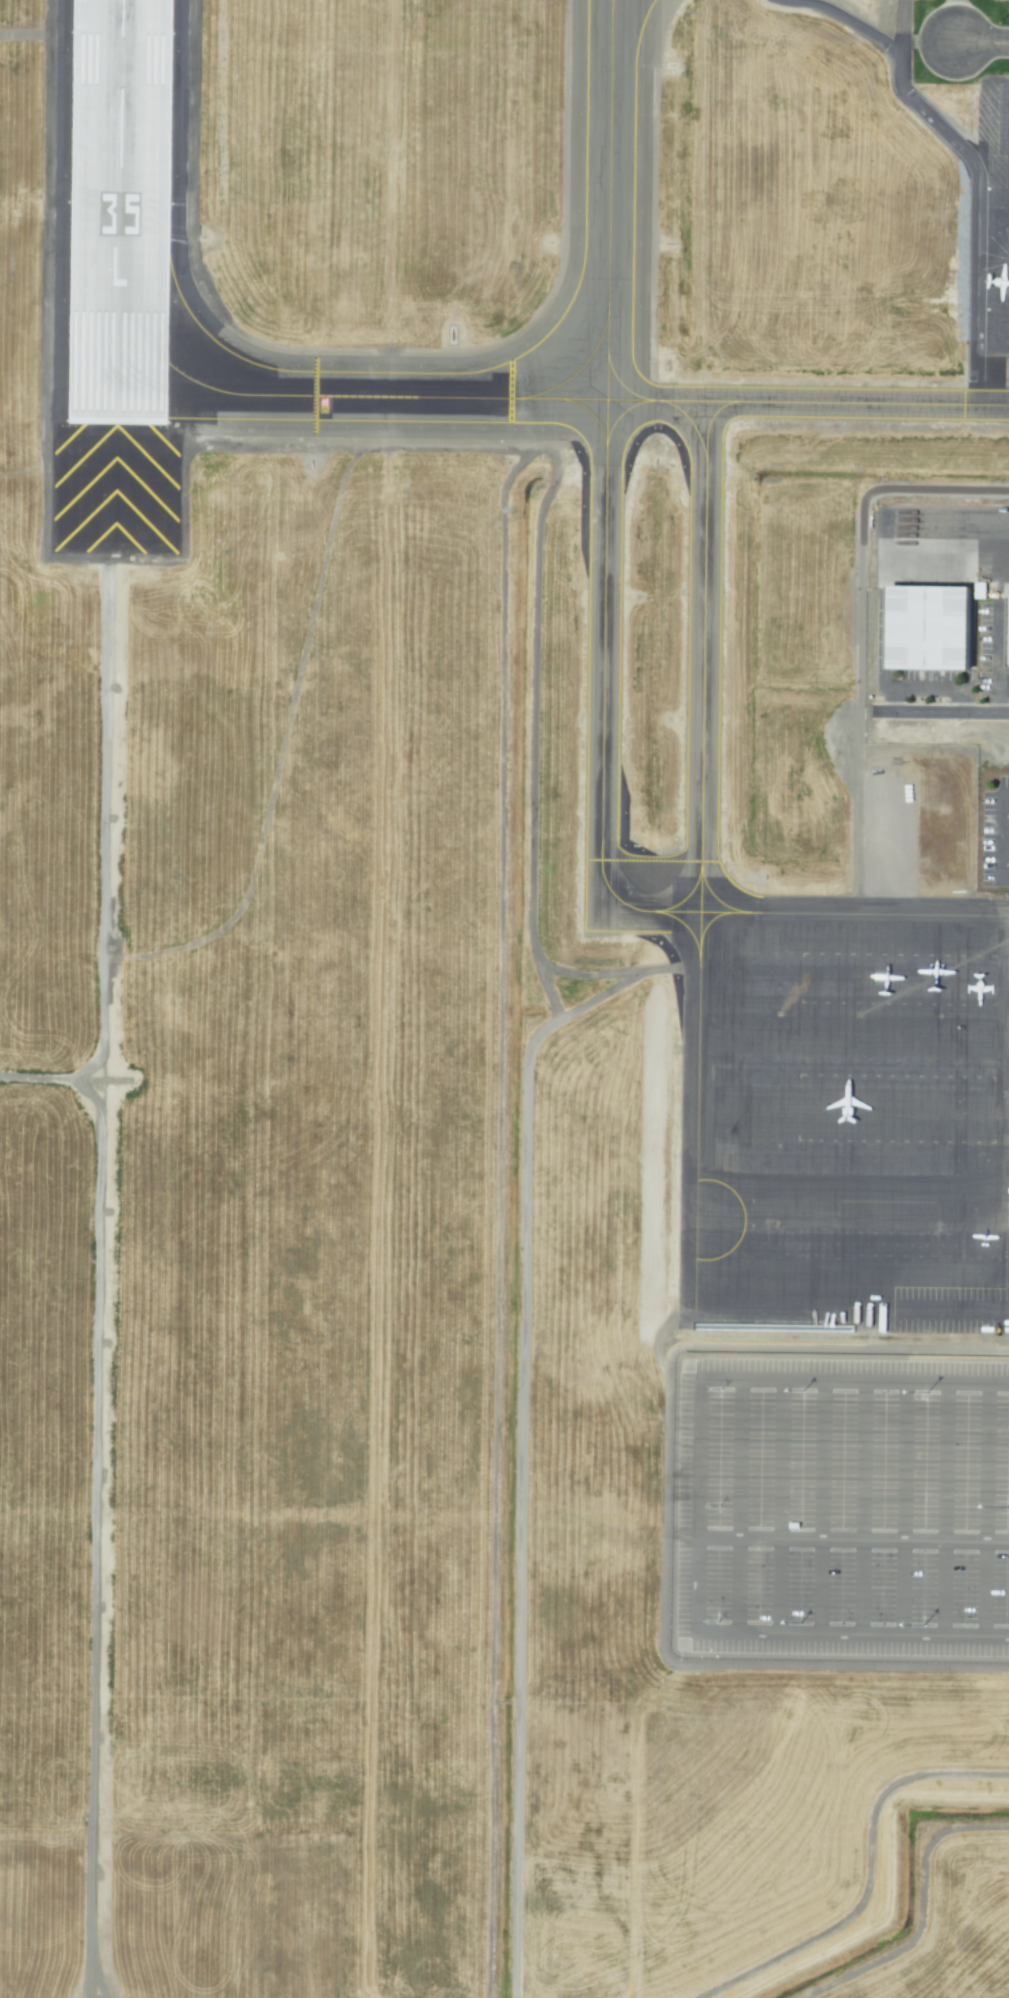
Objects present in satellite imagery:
airport taxiway: (611, 1)
road: (855, 22)
road: (981, 44)
airport taxiway: (608, 201)
airport runway: (120, 213)
airport apron: (992, 236)
airport taxiway: (576, 373)
airport taxiway: (620, 387)
airport taxiway: (337, 399)
airport taxiway: (807, 404)
airport taxiway: (619, 416)
airport taxiway: (592, 417)
airport taxiway: (690, 425)
airport taxiway: (976, 524)
airport apron: (945, 546)
building: (979, 590)
building: (929, 628)
airport taxiway: (704, 640)
building: (1008, 661)
airport taxiway: (604, 681)
road: (951, 714)
road: (1000, 831)
road: (1004, 833)
road: (1004, 877)
airport: (504, 999)
airport apron: (843, 1112)
road: (855, 1381)
road: (699, 1508)
road: (779, 1508)
road: (739, 1509)
road: (821, 1509)
parking lot: (842, 1509)
road: (861, 1509)
road: (904, 1509)
road: (948, 1510)
road: (986, 1510)
road: (853, 1540)
road: (853, 1638)
road: (869, 1877)

